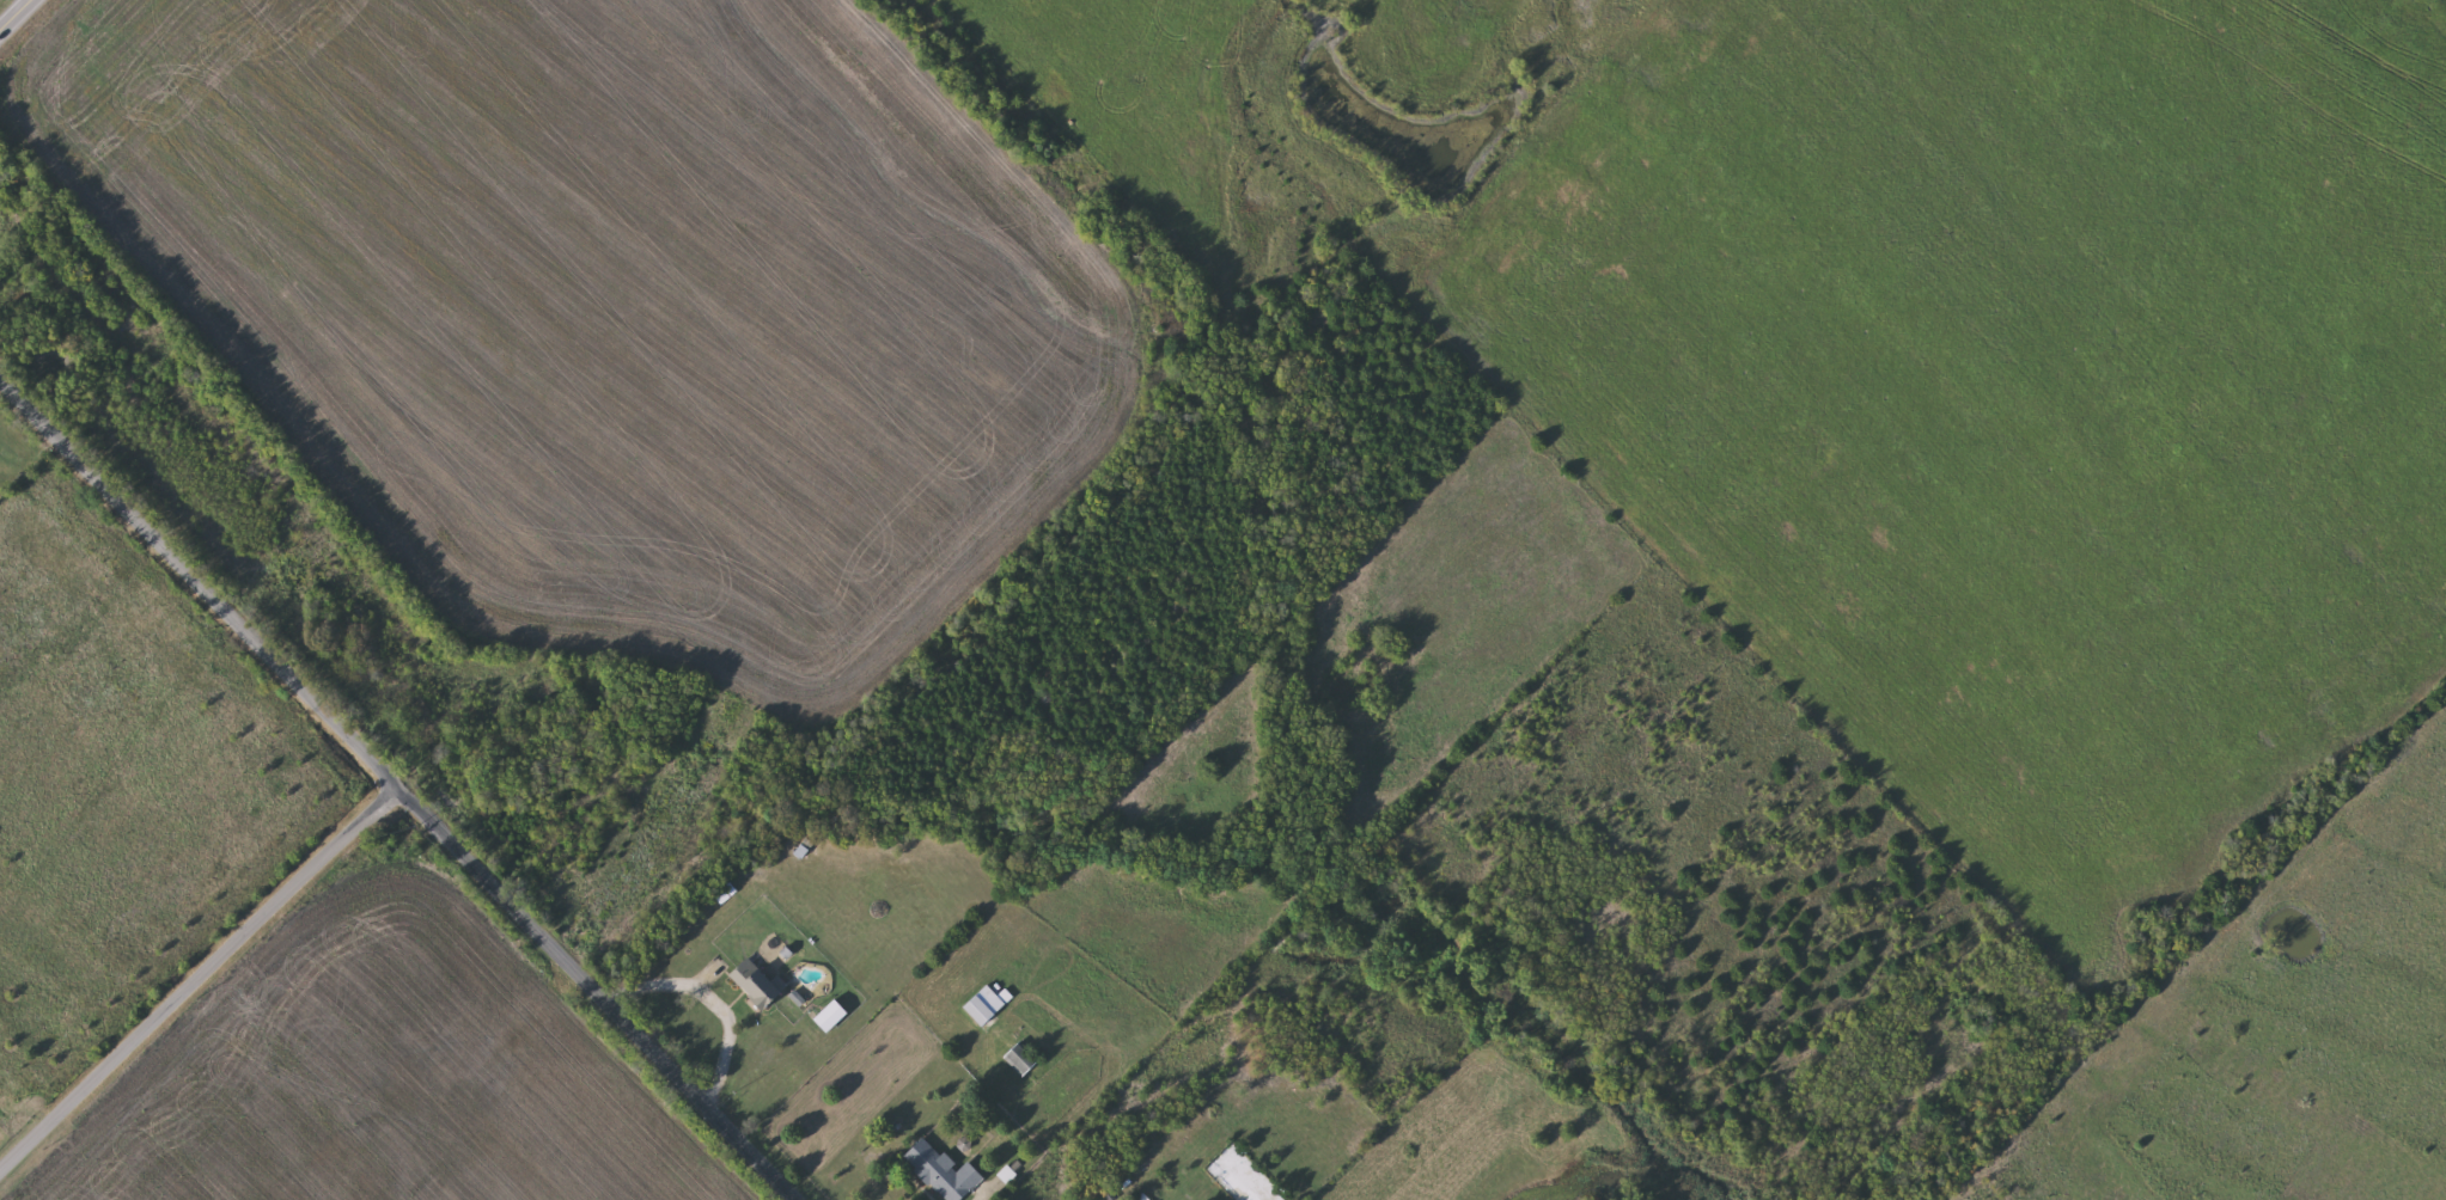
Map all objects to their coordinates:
road: (39, 0)
road: (20, 19)
road: (399, 786)
road: (196, 972)
building: (760, 985)
road: (719, 990)
building: (989, 1005)
building: (1024, 1059)
building: (945, 1173)
road: (987, 1196)

